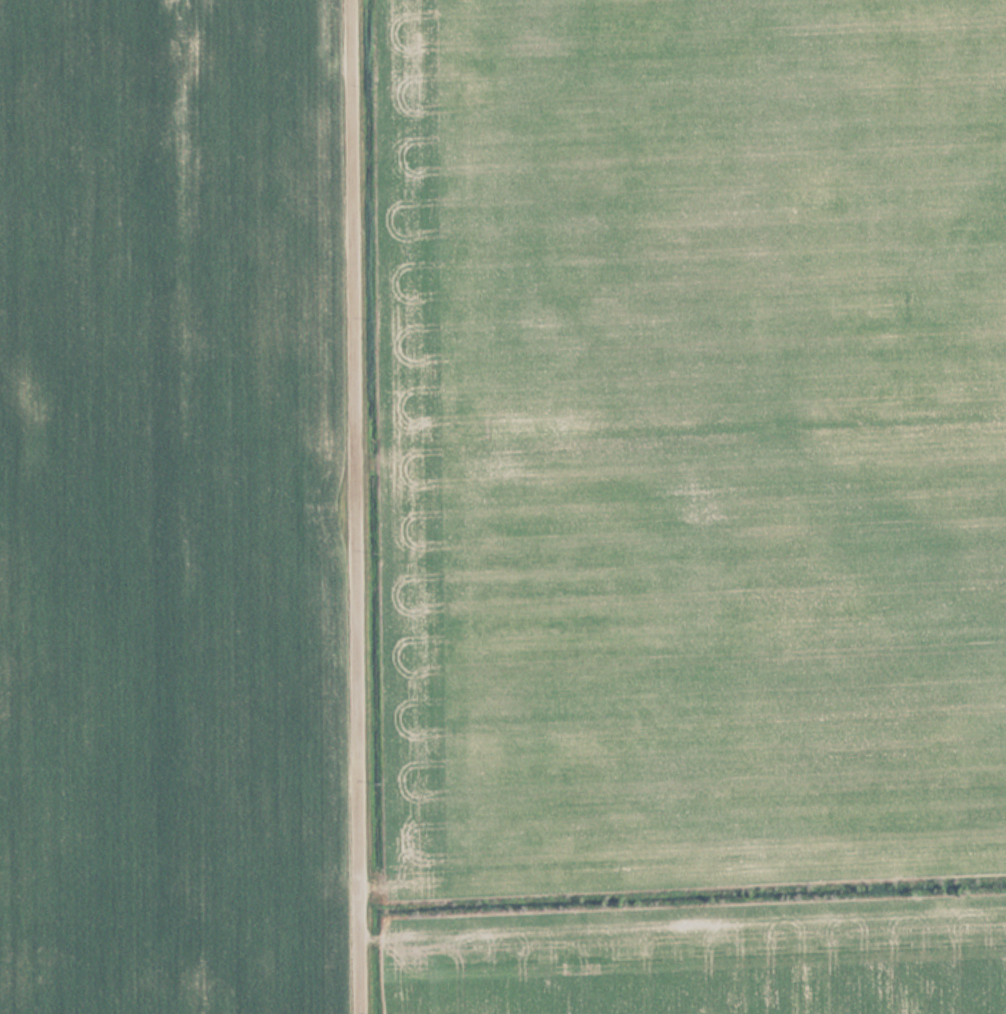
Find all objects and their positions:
road: (364, 507)

